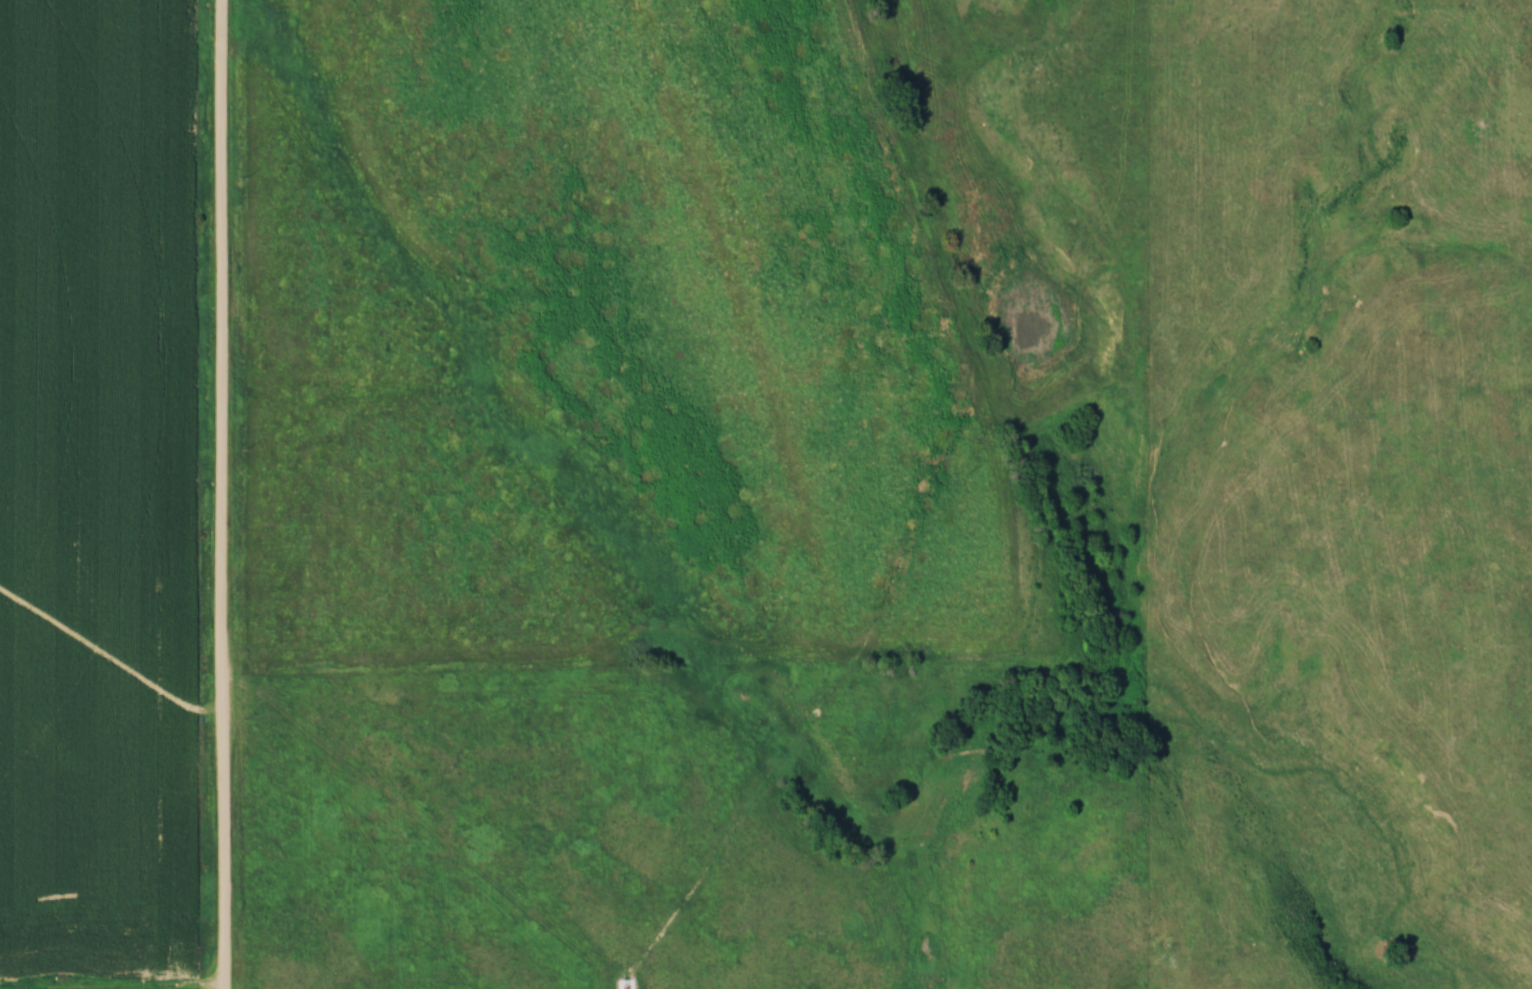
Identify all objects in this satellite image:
road: (223, 494)
road: (219, 987)

